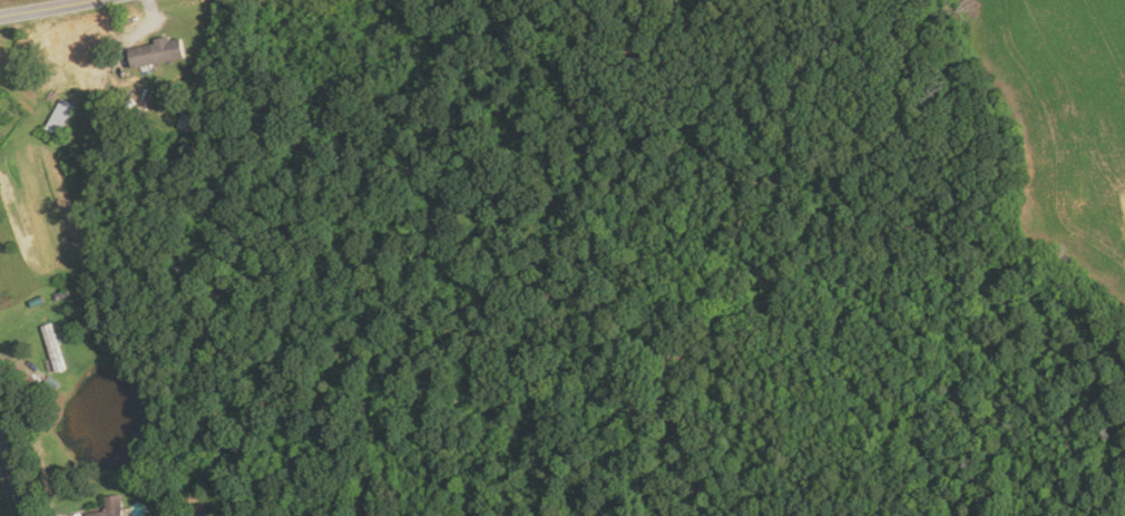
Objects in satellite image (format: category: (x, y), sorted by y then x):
road: (42, 8)
building: (158, 52)
building: (91, 72)
building: (62, 117)
building: (55, 347)
road: (11, 483)
building: (113, 507)

